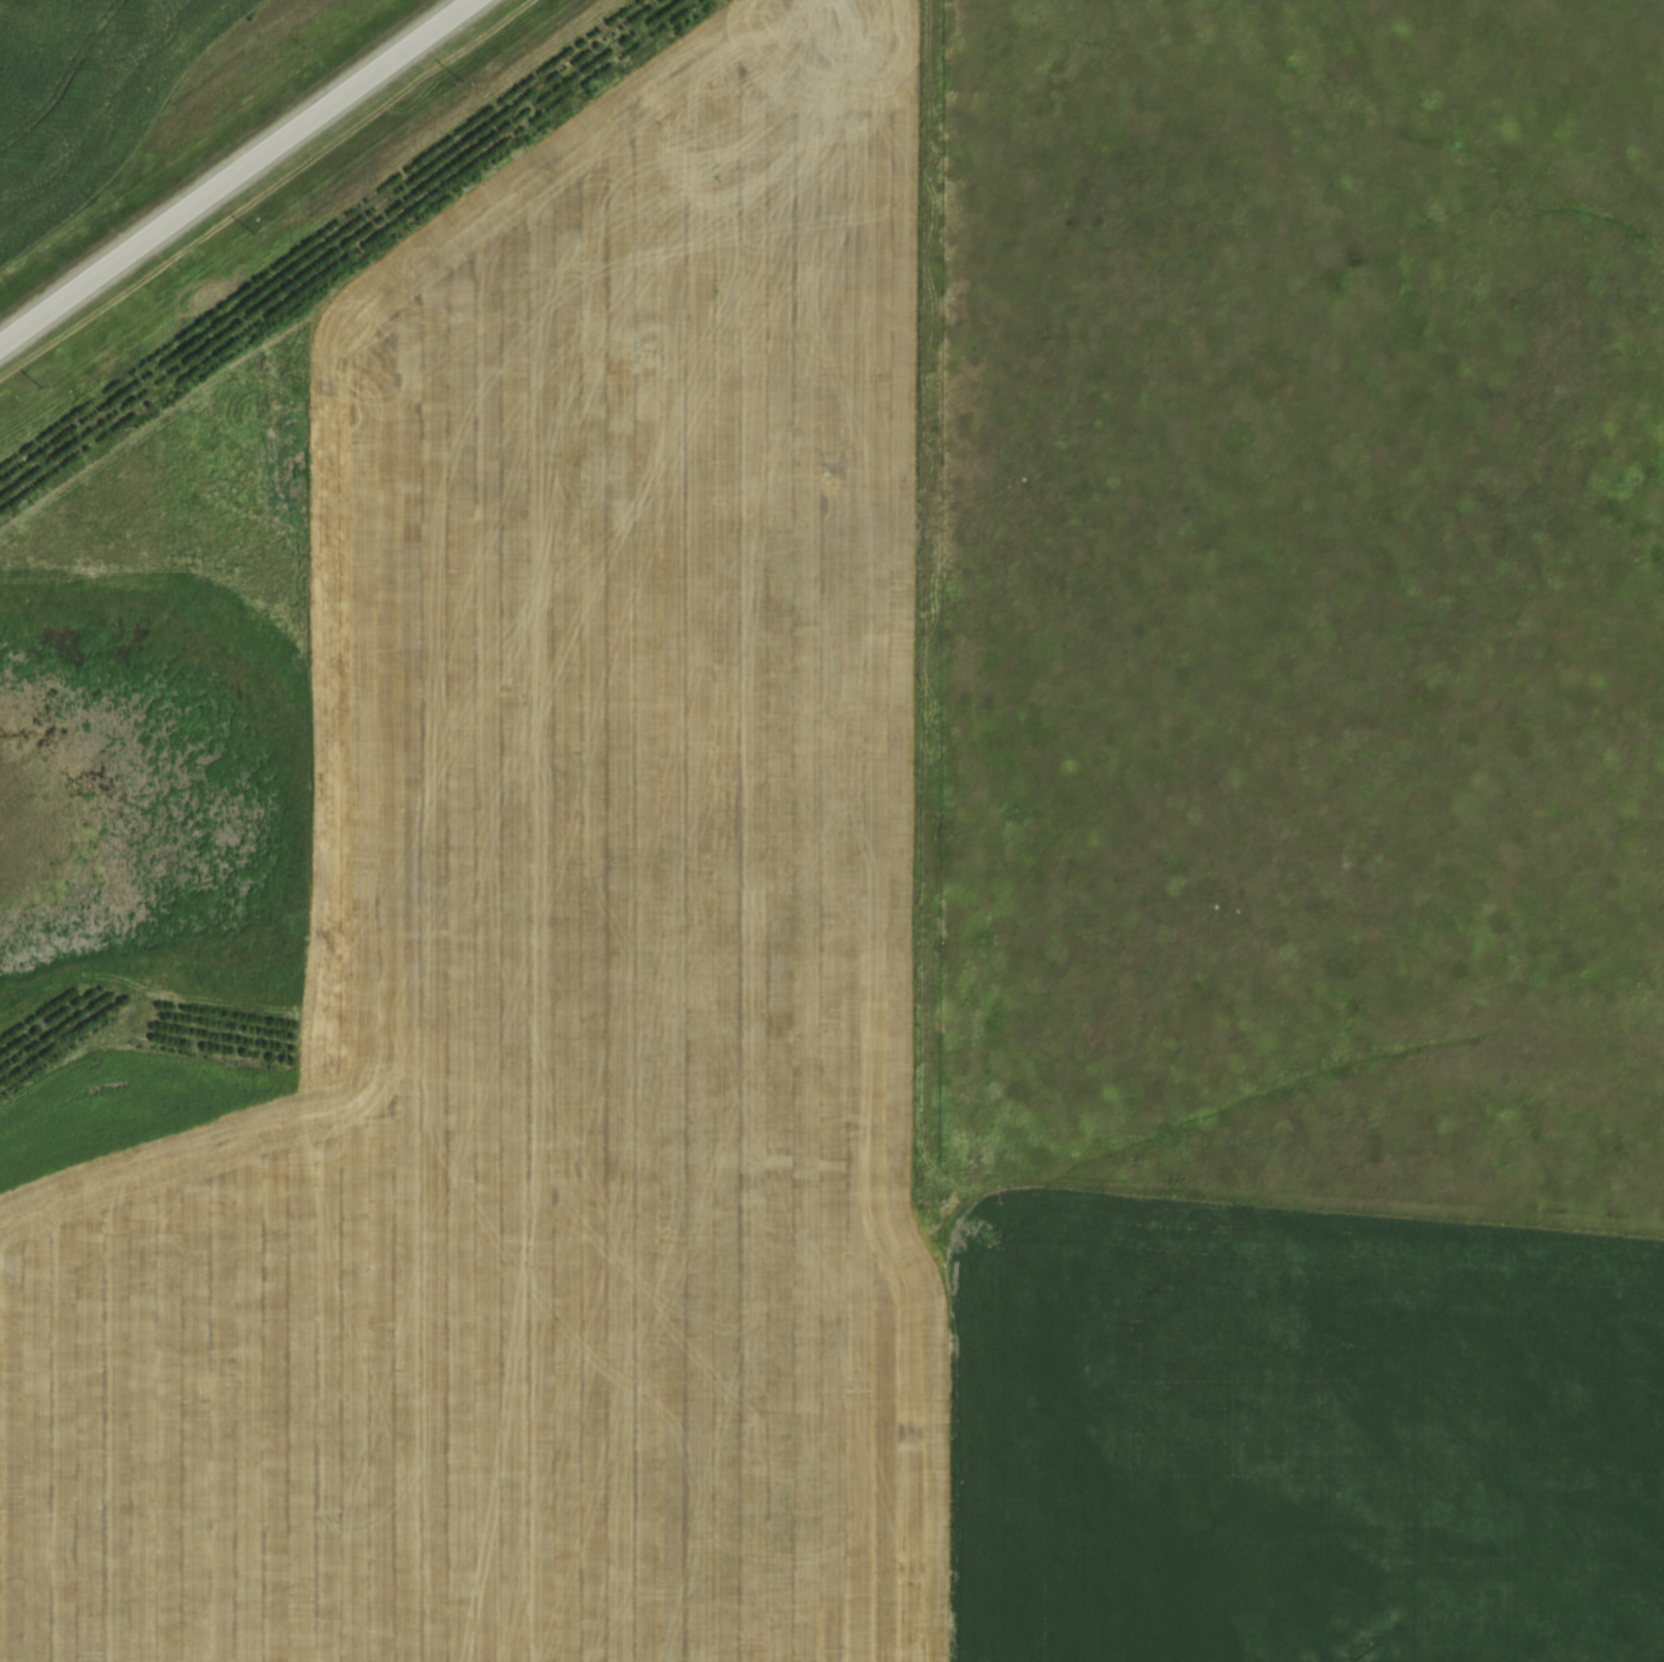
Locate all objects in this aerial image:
road: (237, 173)

